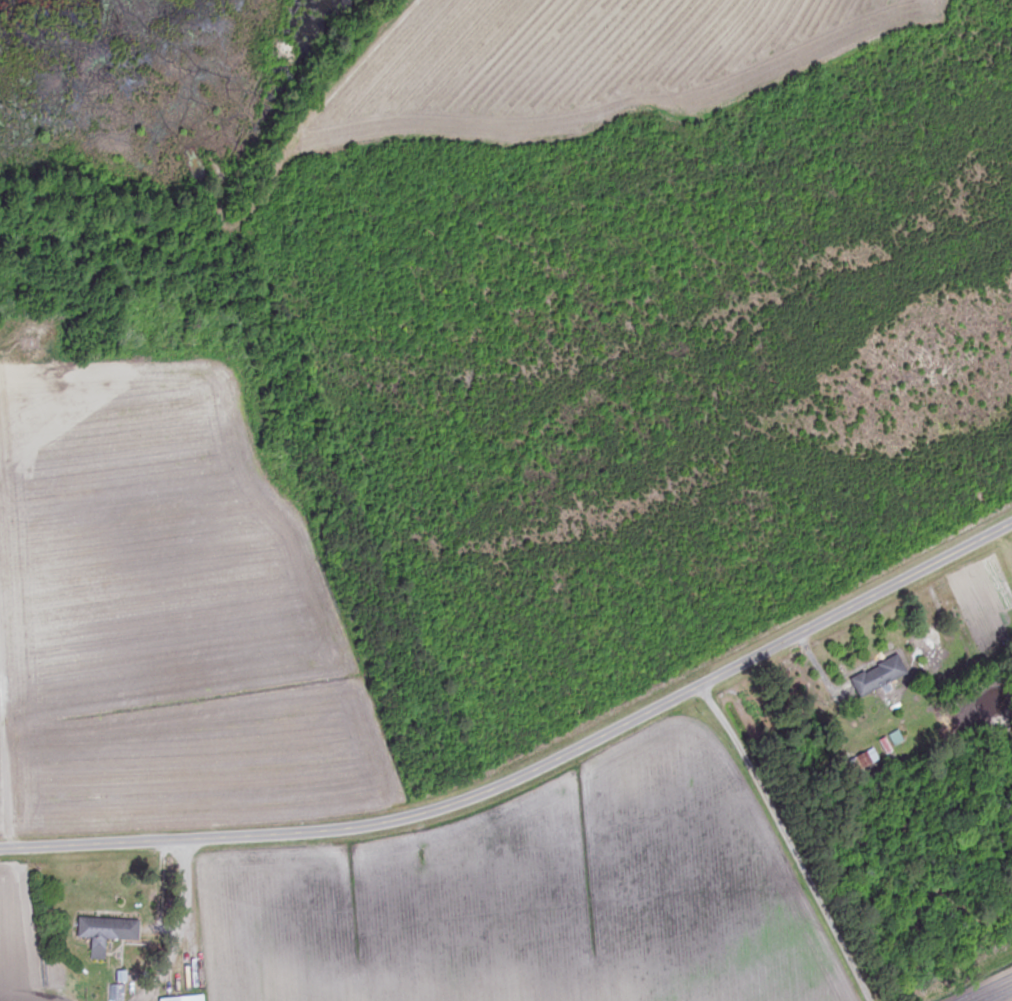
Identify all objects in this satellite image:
building: (881, 676)
road: (529, 769)
road: (777, 842)
building: (108, 933)
building: (187, 999)

